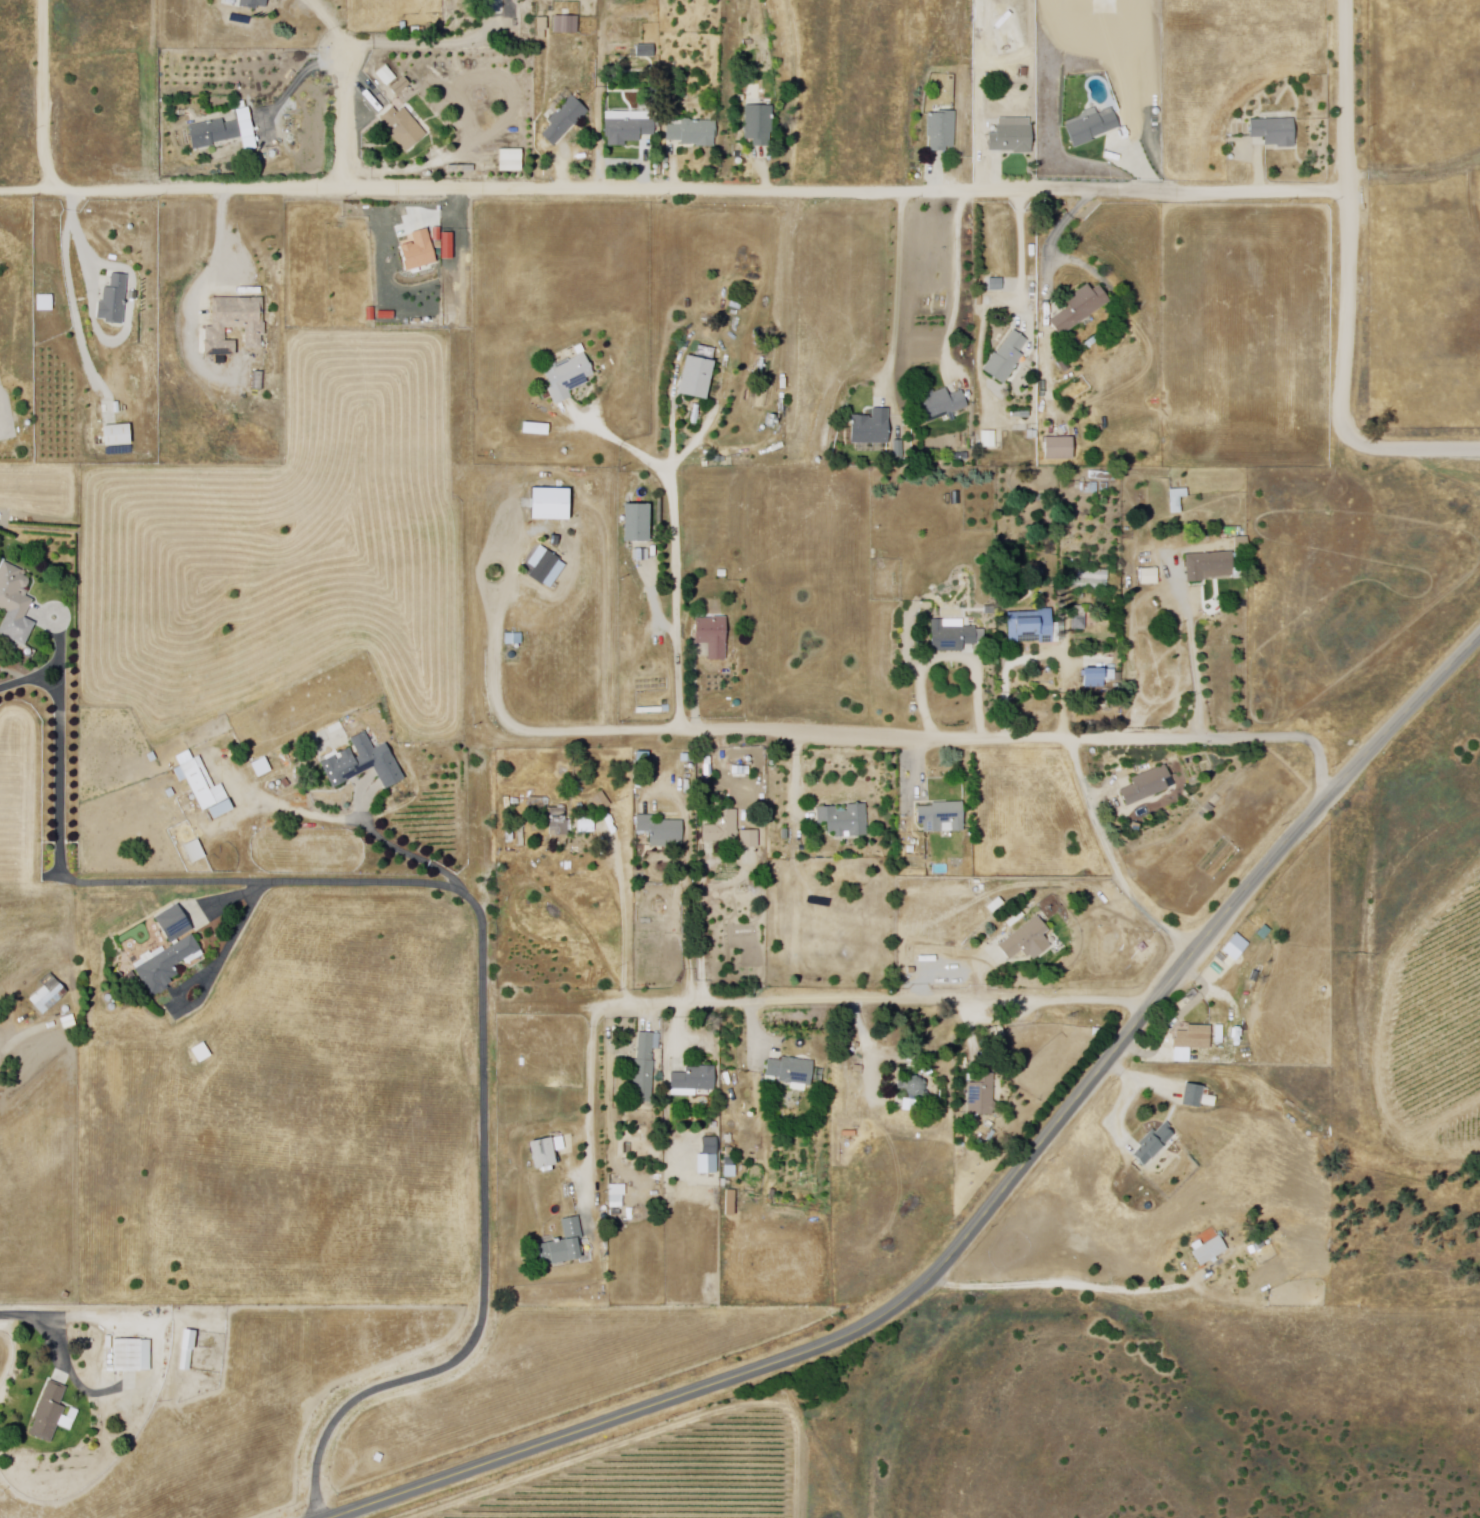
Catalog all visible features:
building: (254, 3)
road: (328, 21)
building: (567, 22)
building: (540, 27)
road: (371, 42)
building: (645, 52)
building: (386, 76)
road: (45, 98)
road: (338, 118)
building: (566, 119)
building: (759, 124)
building: (404, 126)
building: (1091, 126)
building: (627, 129)
building: (942, 129)
building: (1277, 131)
building: (694, 132)
building: (214, 134)
building: (1013, 135)
building: (510, 160)
road: (672, 191)
road: (227, 231)
road: (77, 232)
road: (1062, 232)
building: (417, 250)
road: (1022, 253)
road: (960, 282)
road: (1347, 282)
road: (899, 293)
building: (115, 301)
building: (1084, 307)
building: (234, 327)
road: (463, 328)
building: (1006, 357)
building: (699, 378)
building: (567, 379)
building: (260, 381)
road: (0, 390)
building: (942, 404)
building: (872, 427)
building: (118, 436)
building: (988, 438)
building: (1061, 448)
building: (1177, 500)
building: (636, 522)
road: (679, 546)
building: (545, 565)
building: (1210, 565)
building: (1150, 575)
building: (1094, 581)
building: (14, 590)
building: (535, 601)
building: (1030, 626)
building: (26, 628)
building: (714, 637)
building: (955, 637)
building: (513, 639)
road: (953, 653)
road: (1193, 660)
building: (1095, 677)
road: (879, 735)
building: (152, 757)
building: (366, 762)
road: (797, 778)
building: (246, 783)
building: (1147, 786)
building: (205, 788)
building: (170, 792)
building: (601, 801)
building: (944, 817)
building: (557, 820)
building: (845, 820)
building: (587, 824)
building: (663, 831)
building: (731, 833)
building: (195, 850)
road: (407, 854)
road: (1113, 860)
road: (626, 916)
road: (483, 921)
building: (172, 924)
building: (1029, 940)
building: (165, 966)
road: (980, 977)
building: (48, 994)
road: (786, 1000)
building: (997, 1036)
building: (1195, 1037)
building: (1083, 1050)
building: (198, 1055)
building: (793, 1069)
building: (859, 1069)
building: (642, 1071)
building: (696, 1078)
building: (982, 1094)
building: (1191, 1096)
building: (911, 1103)
building: (850, 1133)
building: (920, 1136)
building: (1151, 1145)
building: (730, 1151)
building: (641, 1153)
building: (709, 1155)
building: (730, 1160)
building: (732, 1172)
building: (548, 1177)
building: (617, 1189)
building: (617, 1202)
building: (731, 1202)
road: (991, 1202)
building: (616, 1213)
building: (561, 1247)
building: (1209, 1252)
building: (187, 1347)
road: (63, 1351)
building: (132, 1353)
building: (49, 1413)

